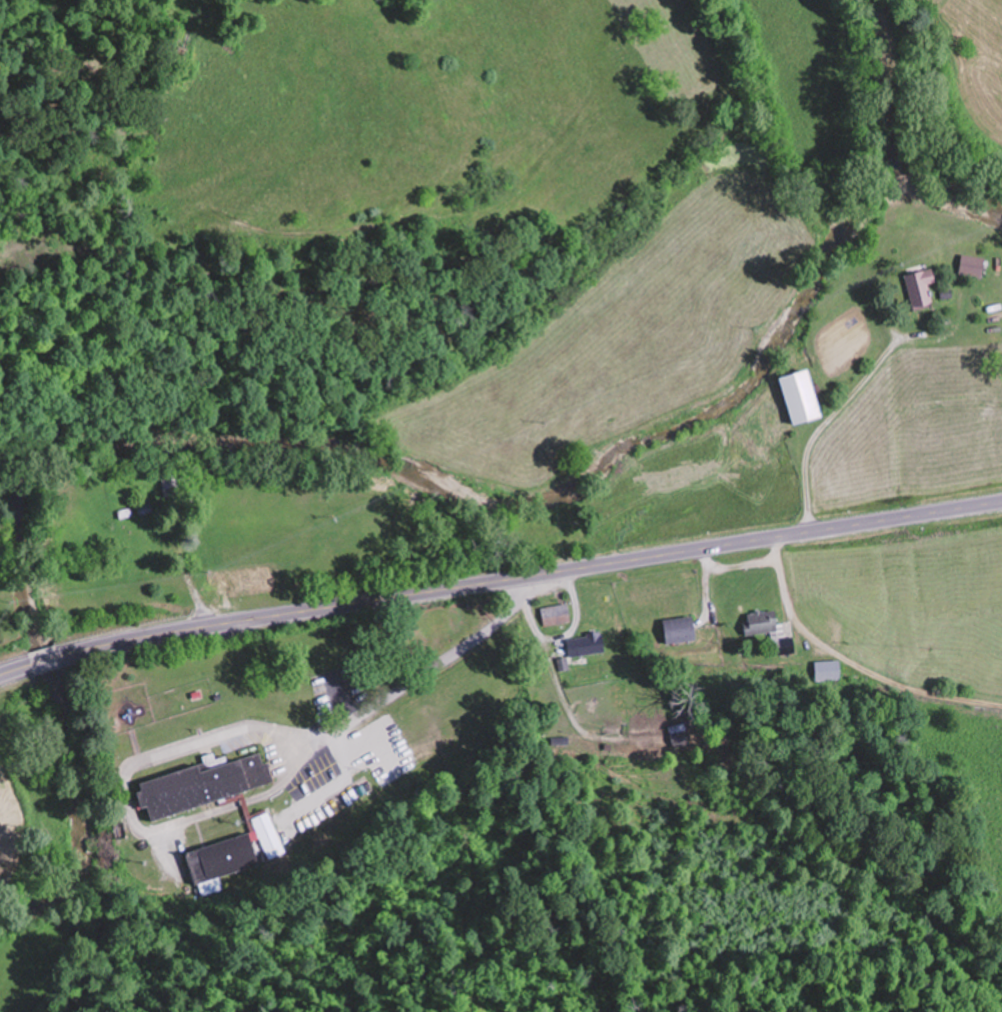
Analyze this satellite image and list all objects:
river: (957, 185)
building: (973, 265)
building: (922, 287)
building: (804, 396)
building: (164, 486)
road: (529, 577)
building: (554, 614)
building: (762, 622)
building: (681, 629)
building: (586, 644)
road: (44, 660)
road: (16, 670)
building: (827, 670)
road: (393, 687)
building: (679, 734)
building: (205, 784)
road: (532, 853)
building: (225, 858)

